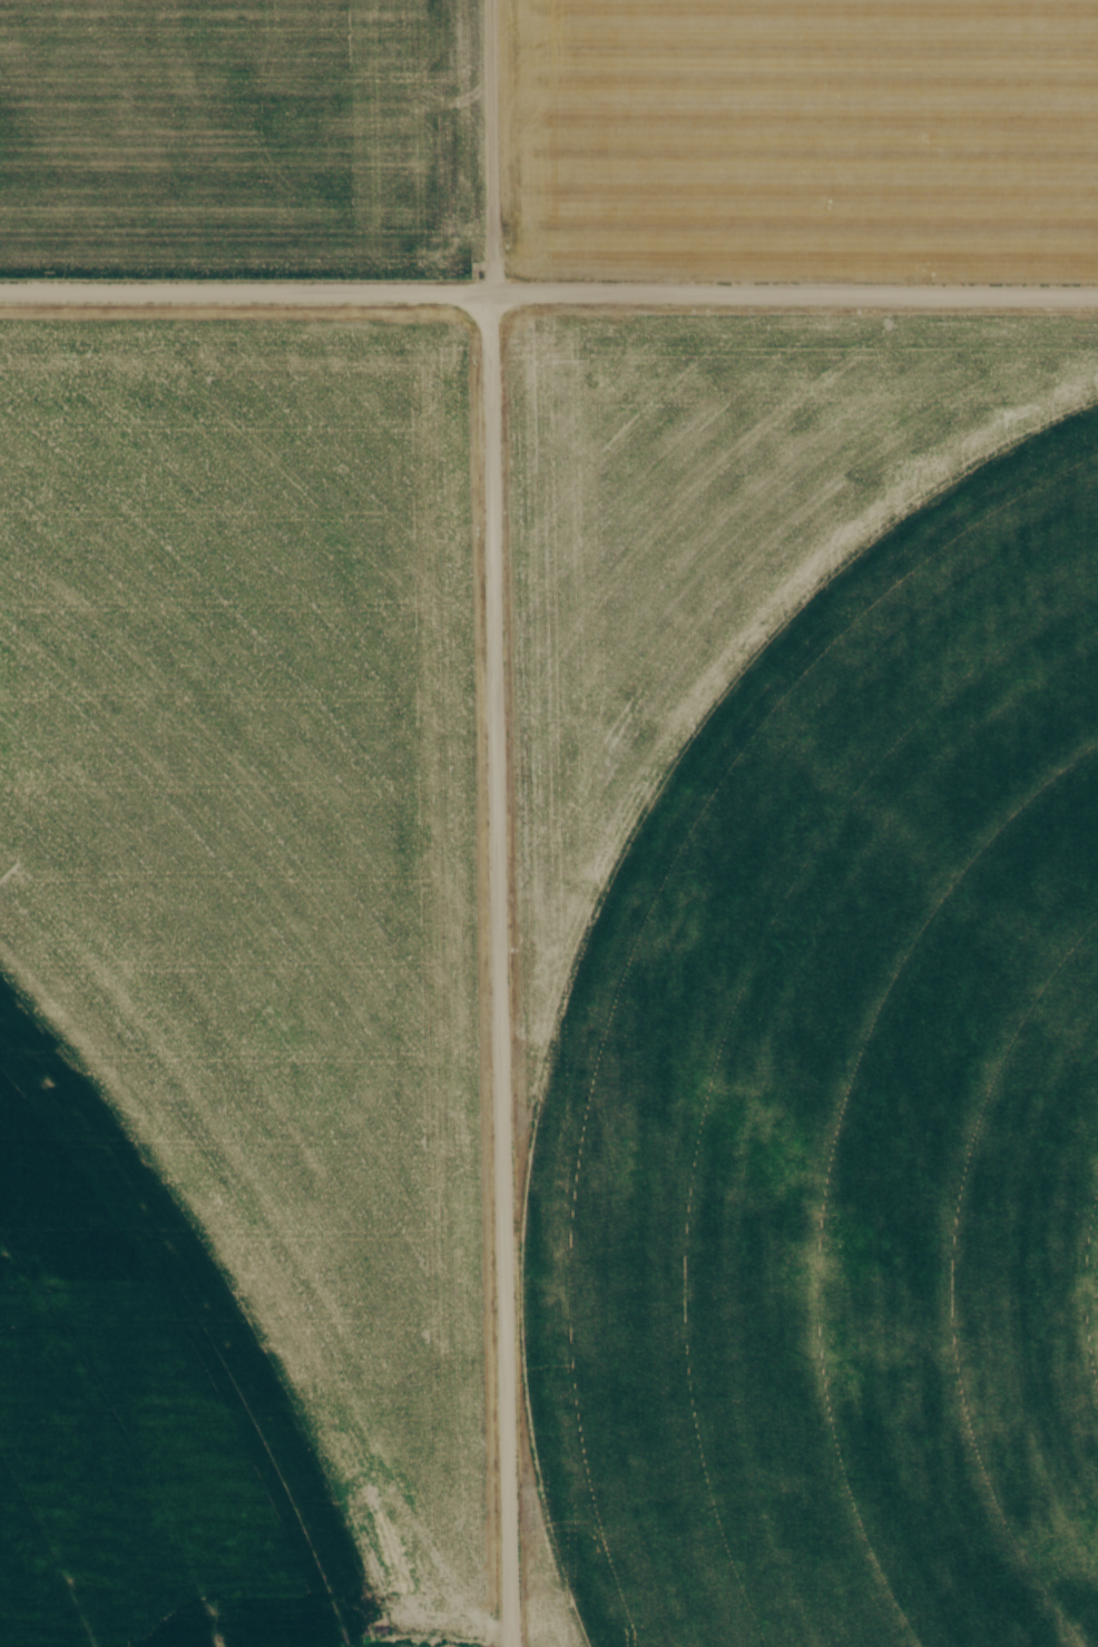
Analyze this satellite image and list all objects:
crop: (550, 137)
road: (244, 292)
road: (793, 294)
road: (494, 970)
crop: (238, 982)
crop: (835, 1099)

